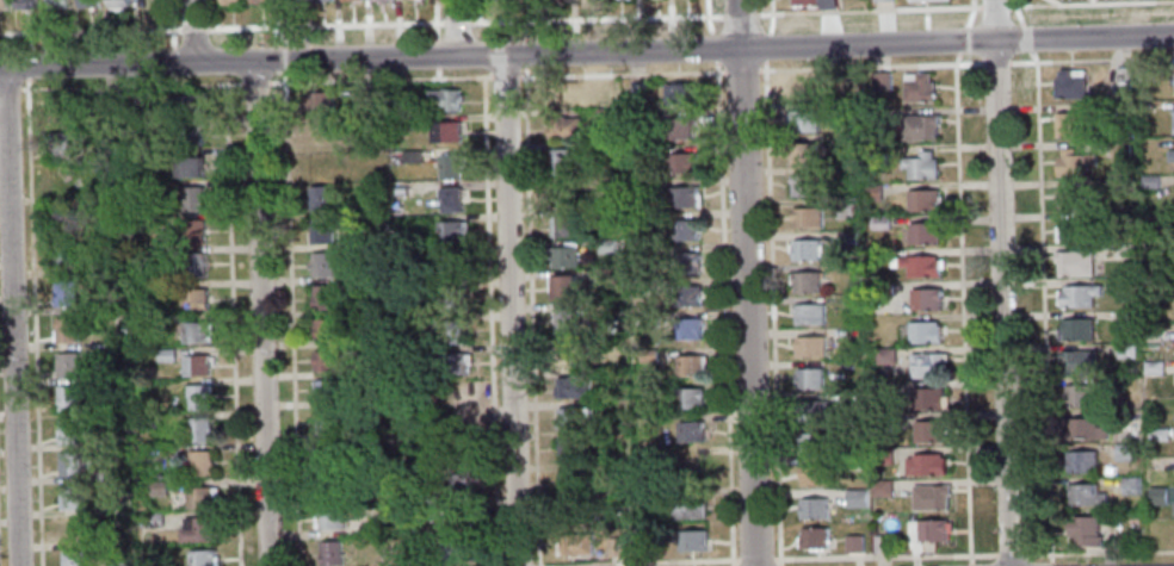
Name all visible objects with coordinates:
building: (321, 0)
building: (347, 0)
building: (531, 0)
building: (880, 0)
building: (917, 0)
park: (1040, 0)
building: (230, 1)
building: (260, 1)
building: (289, 1)
building: (384, 1)
road: (1090, 1)
building: (118, 2)
building: (150, 2)
building: (817, 2)
road: (1055, 2)
building: (2, 4)
building: (25, 4)
building: (58, 4)
building: (87, 4)
road: (1090, 4)
road: (994, 6)
road: (869, 10)
road: (1019, 12)
road: (971, 13)
road: (740, 14)
road: (771, 15)
road: (709, 17)
road: (595, 18)
road: (435, 19)
road: (478, 19)
road: (457, 20)
road: (173, 23)
road: (222, 26)
road: (456, 27)
road: (192, 31)
road: (1027, 37)
road: (963, 39)
road: (214, 43)
road: (767, 45)
road: (713, 46)
road: (435, 49)
road: (481, 52)
road: (587, 52)
road: (174, 55)
road: (1090, 58)
road: (995, 62)
road: (871, 66)
road: (742, 69)
road: (26, 71)
building: (1143, 71)
road: (622, 73)
building: (1122, 75)
road: (506, 76)
road: (381, 79)
building: (880, 80)
road: (253, 82)
building: (1070, 85)
road: (128, 86)
road: (8, 88)
building: (799, 88)
building: (919, 88)
building: (678, 93)
building: (561, 97)
building: (137, 99)
building: (445, 100)
building: (319, 101)
building: (1142, 105)
building: (187, 106)
building: (400, 106)
building: (60, 108)
building: (844, 113)
building: (605, 114)
building: (1173, 117)
building: (803, 122)
building: (403, 124)
building: (1071, 125)
building: (921, 126)
building: (563, 127)
building: (678, 130)
building: (321, 131)
building: (447, 132)
building: (189, 135)
building: (61, 144)
building: (601, 149)
building: (1120, 151)
building: (636, 154)
building: (802, 154)
building: (1170, 155)
building: (412, 156)
building: (877, 157)
building: (560, 161)
building: (681, 163)
building: (1073, 163)
building: (920, 166)
building: (190, 167)
building: (450, 167)
building: (64, 181)
building: (1150, 181)
building: (805, 186)
building: (394, 189)
building: (638, 189)
building: (871, 193)
building: (562, 194)
building: (680, 198)
building: (1075, 198)
building: (192, 199)
building: (322, 199)
building: (451, 200)
building: (922, 201)
building: (844, 209)
building: (807, 218)
building: (62, 219)
building: (879, 223)
building: (567, 226)
building: (682, 230)
building: (1075, 230)
building: (321, 231)
building: (450, 231)
building: (192, 232)
building: (922, 232)
building: (847, 241)
building: (607, 245)
building: (805, 250)
building: (1125, 250)
building: (878, 255)
building: (63, 256)
building: (415, 256)
building: (566, 257)
building: (684, 263)
building: (1075, 263)
building: (109, 265)
building: (193, 265)
building: (321, 265)
building: (449, 266)
building: (921, 266)
building: (1131, 269)
building: (366, 272)
building: (607, 275)
road: (746, 282)
building: (805, 282)
road: (1000, 282)
building: (564, 288)
building: (883, 290)
building: (64, 293)
building: (685, 296)
building: (322, 297)
building: (1077, 297)
building: (193, 299)
building: (453, 299)
building: (925, 299)
building: (1143, 303)
building: (99, 305)
road: (1043, 305)
road: (962, 306)
road: (509, 310)
road: (724, 312)
road: (260, 313)
road: (772, 313)
building: (809, 313)
road: (10, 317)
road: (489, 317)
building: (1126, 319)
road: (33, 321)
building: (647, 321)
building: (160, 322)
building: (564, 322)
road: (291, 323)
road: (231, 325)
building: (327, 329)
building: (686, 329)
building: (66, 330)
building: (1076, 330)
building: (194, 332)
building: (455, 332)
building: (923, 332)
building: (1151, 332)
building: (810, 347)
building: (1126, 353)
building: (566, 354)
building: (165, 355)
building: (647, 355)
building: (884, 356)
building: (329, 361)
building: (1080, 362)
building: (67, 365)
building: (196, 365)
building: (455, 365)
building: (688, 365)
building: (927, 366)
building: (1154, 368)
building: (101, 375)
building: (809, 378)
building: (571, 387)
building: (330, 390)
building: (884, 391)
building: (1081, 396)
building: (199, 397)
building: (68, 398)
building: (367, 398)
building: (688, 398)
building: (928, 398)
building: (811, 410)
building: (573, 418)
building: (1127, 421)
building: (326, 422)
building: (880, 424)
building: (1082, 429)
building: (68, 430)
building: (199, 430)
building: (690, 431)
building: (851, 431)
building: (929, 431)
building: (1158, 435)
building: (103, 441)
building: (812, 443)
building: (569, 449)
building: (1123, 453)
building: (327, 454)
building: (883, 454)
building: (434, 461)
building: (1081, 461)
building: (200, 462)
building: (70, 465)
building: (851, 465)
building: (926, 465)
building: (105, 474)
building: (814, 475)
building: (570, 483)
building: (1130, 485)
building: (333, 486)
building: (459, 487)
building: (157, 489)
building: (885, 491)
building: (1085, 496)
building: (1156, 496)
building: (70, 497)
building: (931, 497)
building: (199, 498)
building: (855, 498)
building: (614, 502)
building: (688, 508)
building: (812, 509)
building: (575, 514)
building: (458, 518)
building: (332, 520)
building: (153, 521)
building: (200, 530)
building: (369, 530)
building: (932, 530)
building: (1085, 530)
building: (814, 537)
building: (691, 540)
building: (853, 543)
building: (576, 545)
building: (880, 545)
building: (614, 547)
building: (456, 551)
building: (330, 553)
road: (1099, 553)
road: (884, 554)
road: (1011, 554)
building: (72, 558)
building: (200, 558)
road: (653, 561)
building: (123, 562)
road: (970, 564)
road: (1051, 564)

